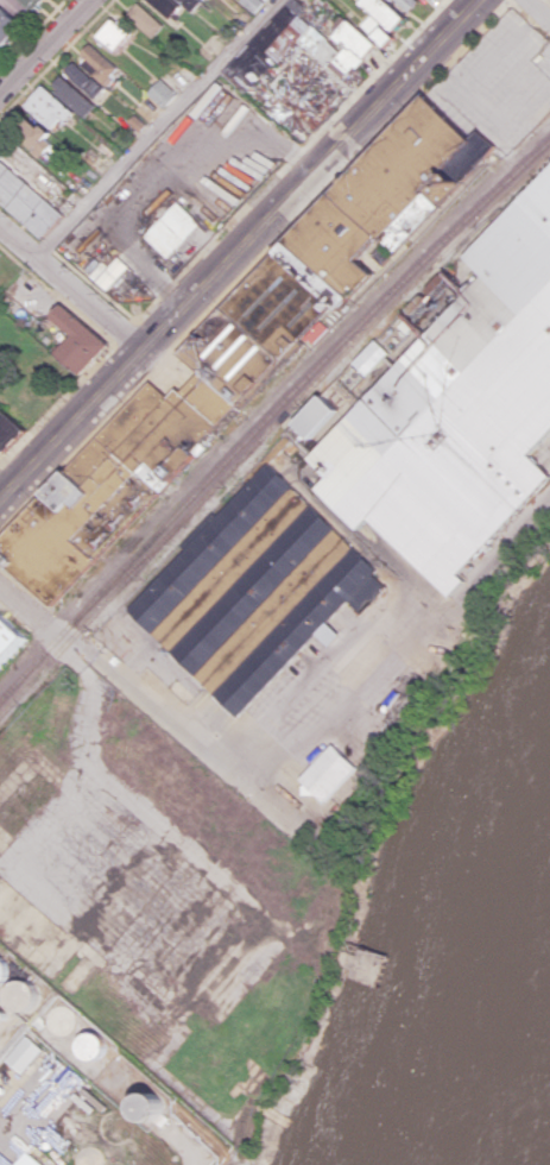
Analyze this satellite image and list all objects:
road: (537, 11)
road: (44, 46)
road: (157, 130)
chimney: (456, 182)
building: (26, 200)
road: (236, 247)
road: (69, 288)
building: (78, 339)
building: (240, 349)
building: (450, 405)
railway: (268, 414)
railway: (268, 429)
building: (8, 430)
railway: (129, 568)
road: (25, 606)
building: (8, 640)
road: (322, 730)
building: (329, 773)
building: (24, 1053)
building: (27, 1160)

